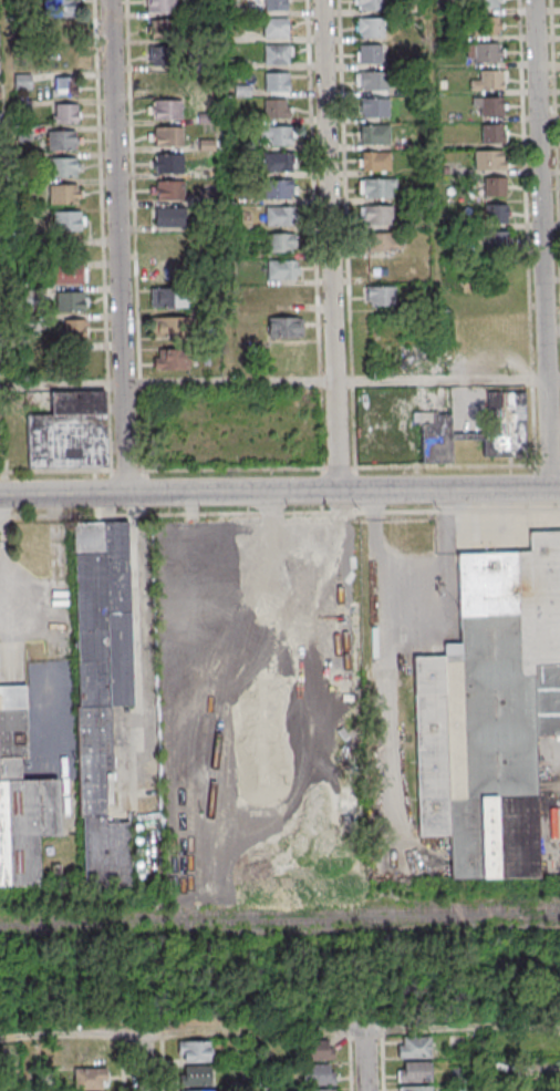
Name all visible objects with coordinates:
building: (489, 4)
building: (279, 6)
building: (372, 6)
building: (163, 7)
building: (62, 10)
building: (488, 23)
building: (279, 29)
building: (372, 29)
building: (166, 31)
building: (63, 35)
building: (484, 51)
building: (369, 53)
building: (167, 56)
building: (279, 56)
building: (490, 80)
building: (280, 83)
building: (377, 83)
building: (66, 89)
building: (488, 105)
building: (276, 107)
building: (377, 110)
building: (169, 111)
building: (68, 116)
building: (208, 117)
building: (492, 132)
building: (281, 137)
building: (378, 137)
building: (169, 138)
building: (64, 142)
building: (489, 159)
building: (378, 163)
building: (170, 165)
building: (280, 165)
building: (64, 168)
building: (495, 186)
building: (382, 189)
road: (443, 189)
road: (227, 191)
building: (280, 191)
building: (172, 192)
road: (13, 193)
building: (64, 195)
building: (497, 213)
building: (173, 217)
building: (382, 217)
building: (281, 218)
building: (70, 222)
building: (497, 240)
road: (542, 244)
road: (120, 245)
building: (281, 245)
road: (328, 245)
building: (384, 245)
building: (163, 269)
building: (282, 270)
building: (70, 275)
building: (283, 296)
building: (168, 297)
building: (383, 297)
building: (73, 302)
building: (172, 326)
building: (284, 327)
building: (72, 331)
building: (170, 359)
road: (446, 379)
road: (166, 383)
building: (69, 431)
building: (476, 431)
road: (279, 491)
road: (377, 505)
road: (58, 568)
road: (31, 591)
road: (139, 628)
building: (102, 685)
building: (491, 711)
road: (390, 764)
building: (21, 796)
road: (280, 1030)
building: (414, 1046)
building: (319, 1049)
building: (194, 1051)
road: (473, 1059)
road: (256, 1060)
road: (369, 1060)
road: (139, 1061)
road: (27, 1062)
road: (384, 1066)
road: (124, 1068)
building: (415, 1071)
building: (318, 1073)
building: (195, 1075)
building: (527, 1077)
building: (90, 1078)
building: (416, 1088)
building: (197, 1090)
building: (319, 1090)

